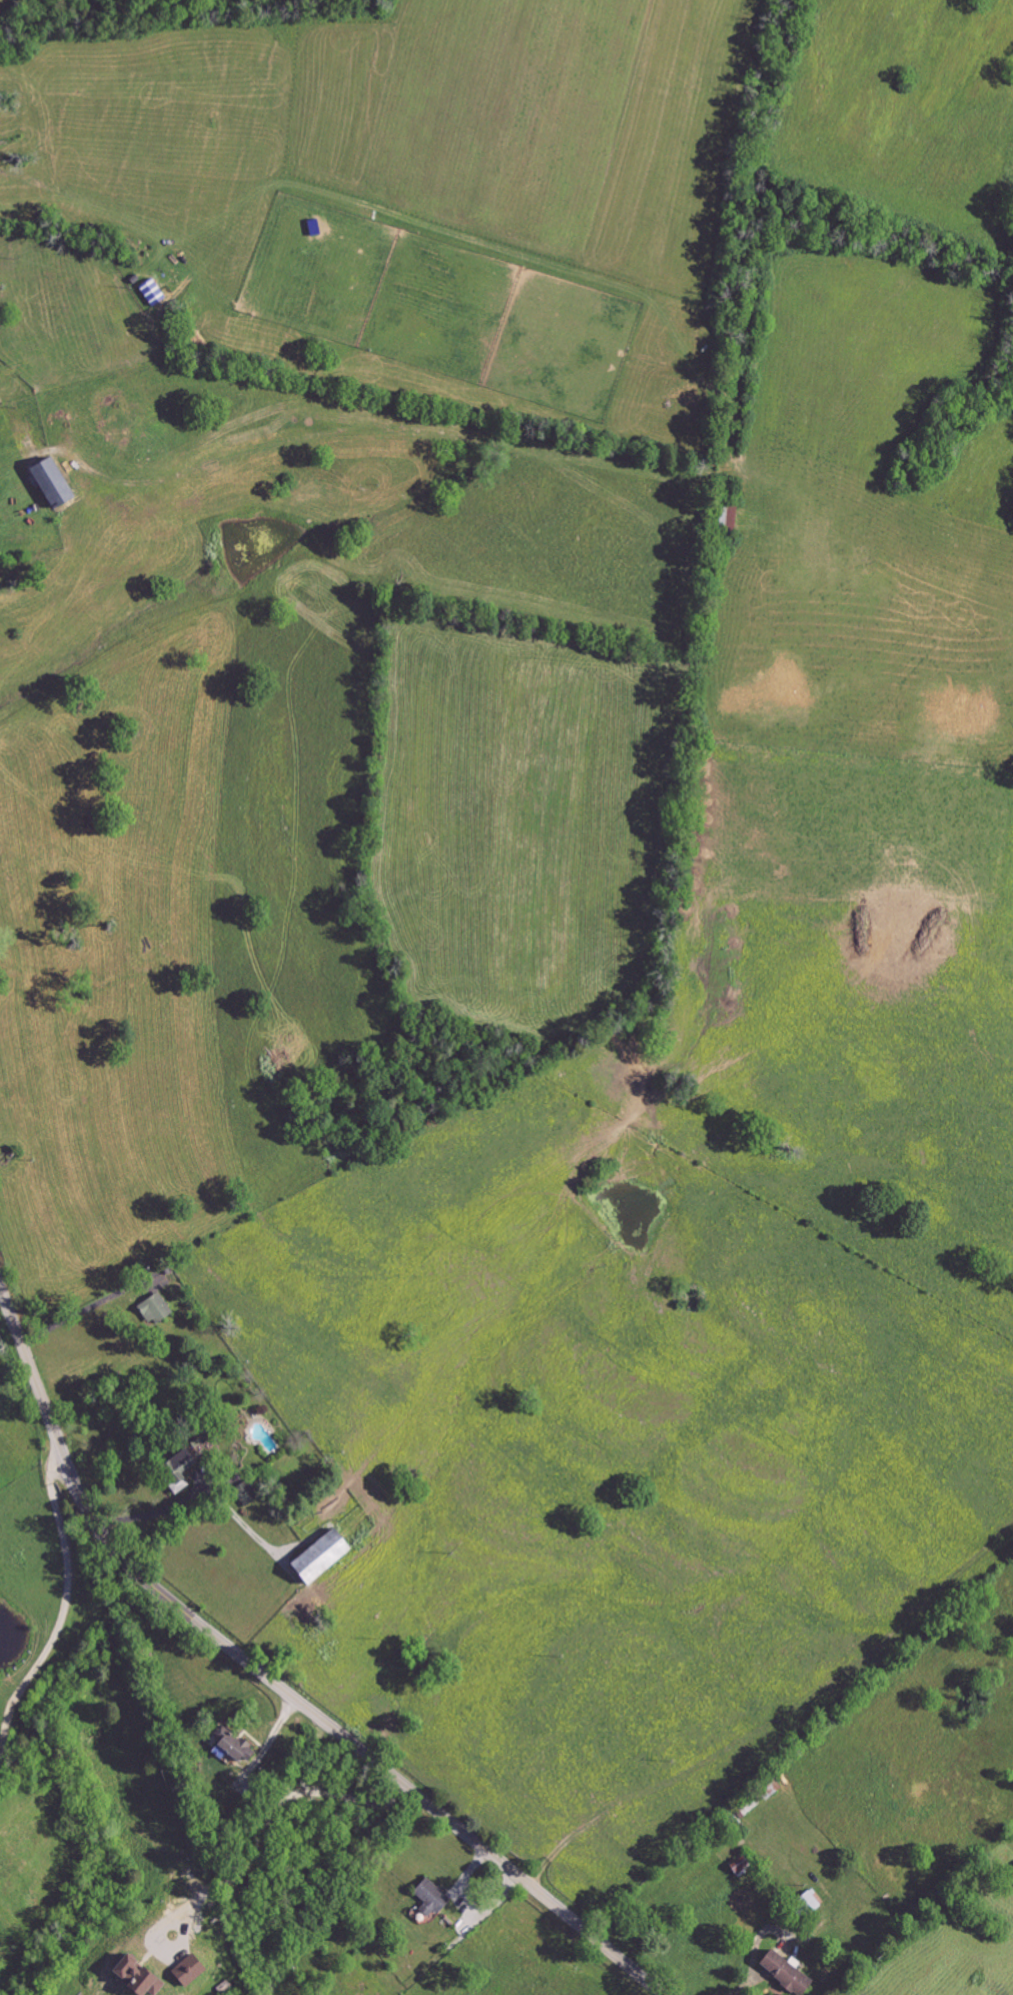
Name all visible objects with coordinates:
road: (2, 470)
building: (46, 481)
building: (724, 518)
building: (153, 1310)
road: (83, 1311)
building: (174, 1471)
building: (244, 1493)
road: (153, 1515)
road: (62, 1618)
road: (271, 1682)
building: (229, 1749)
road: (348, 1798)
road: (262, 1835)
building: (430, 1898)
building: (782, 1973)
building: (130, 1978)

